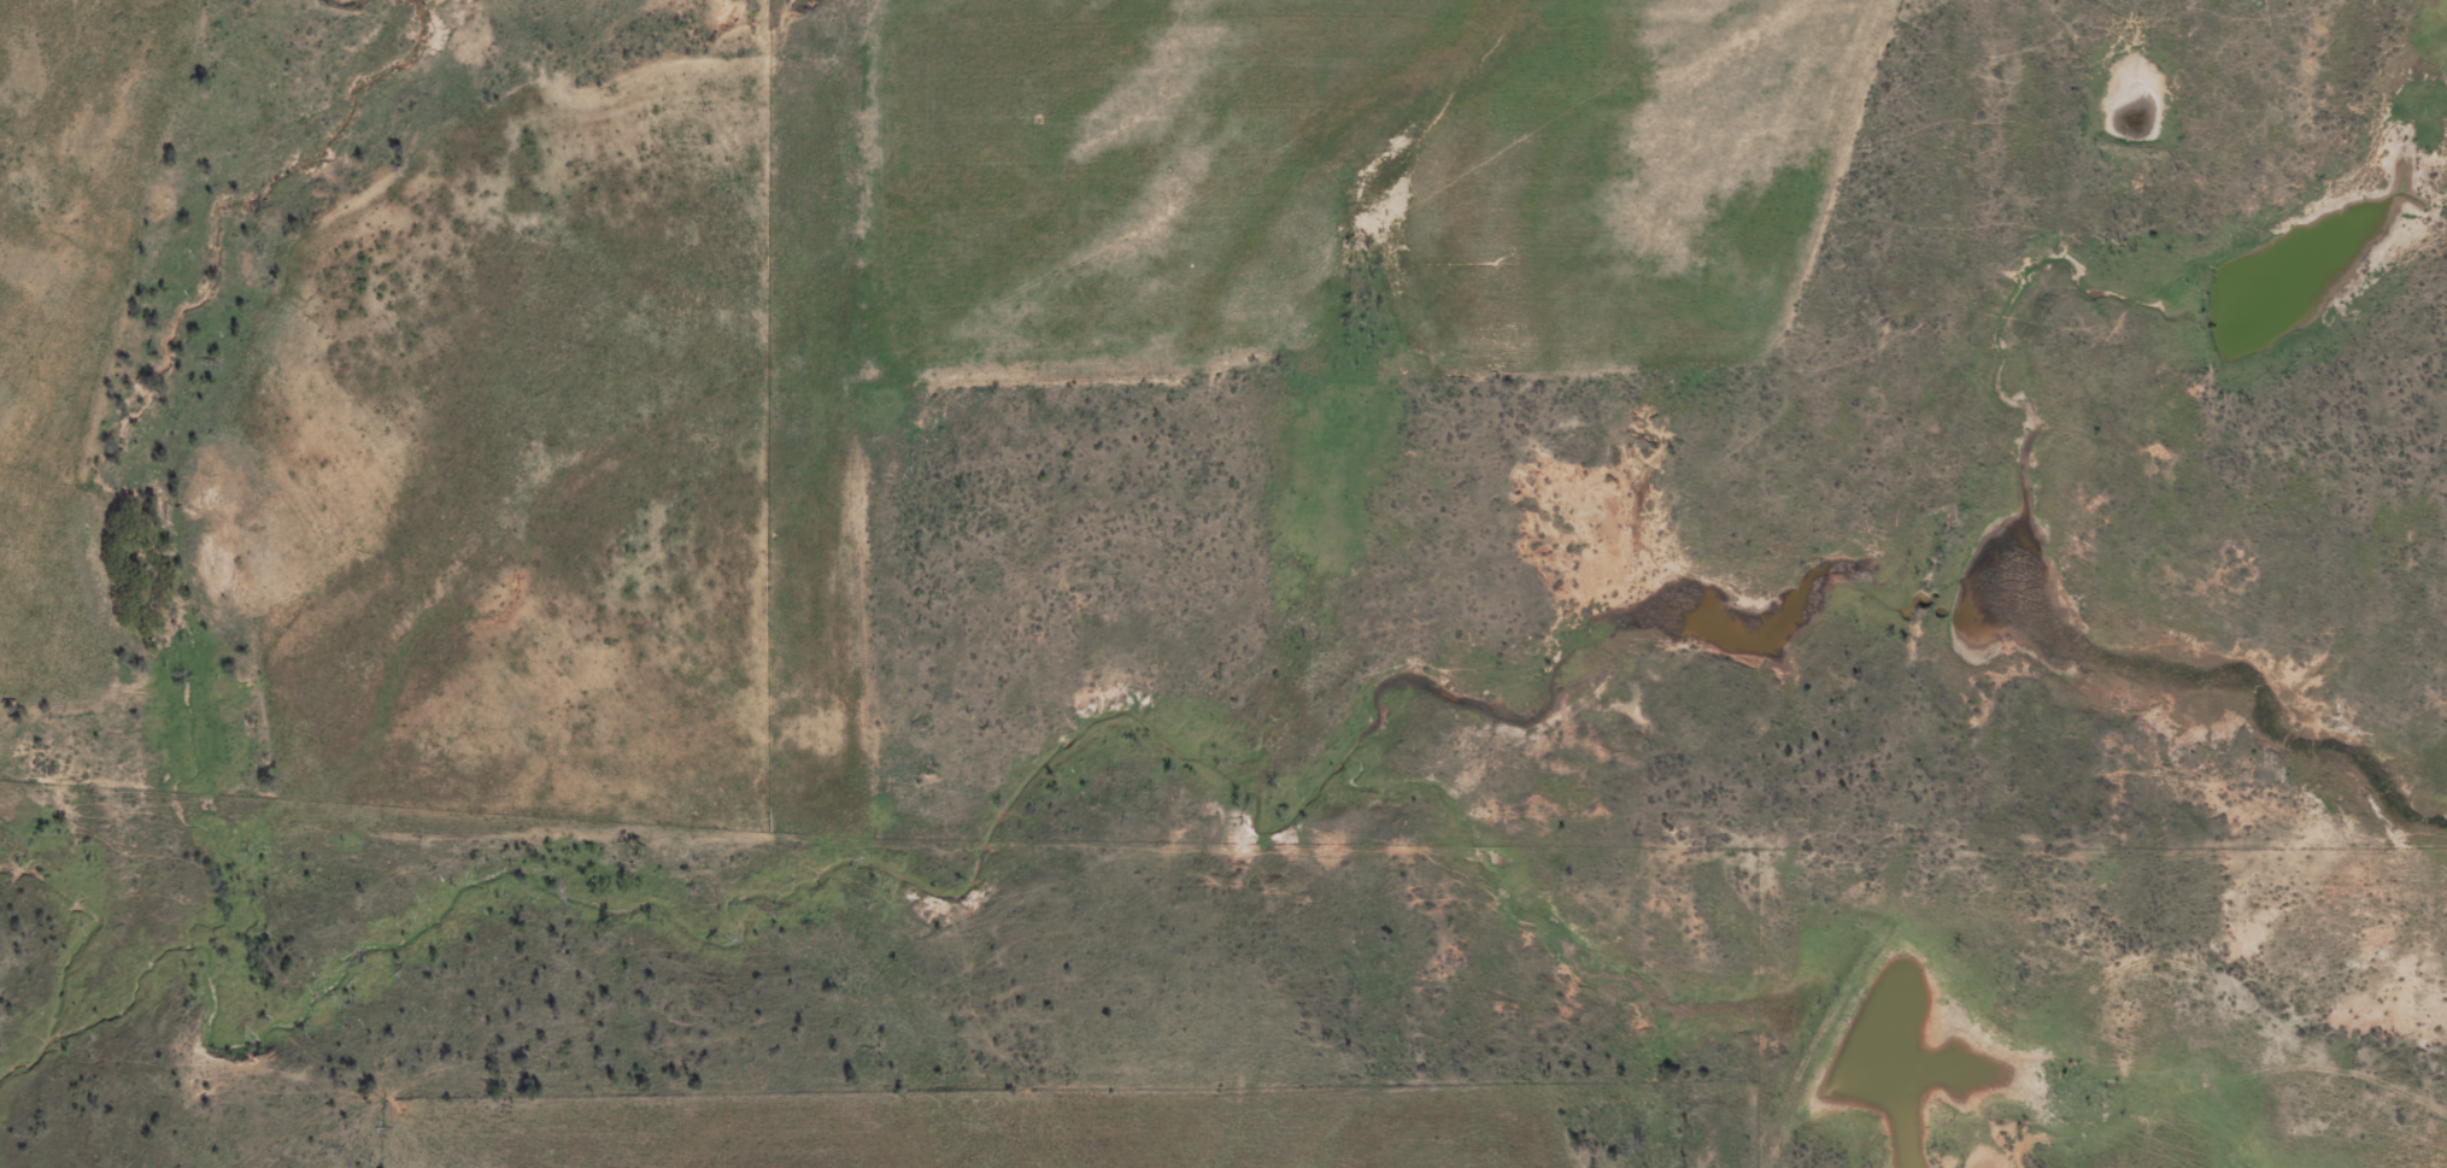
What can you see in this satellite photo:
road: (1243, 841)
road: (1477, 1099)

